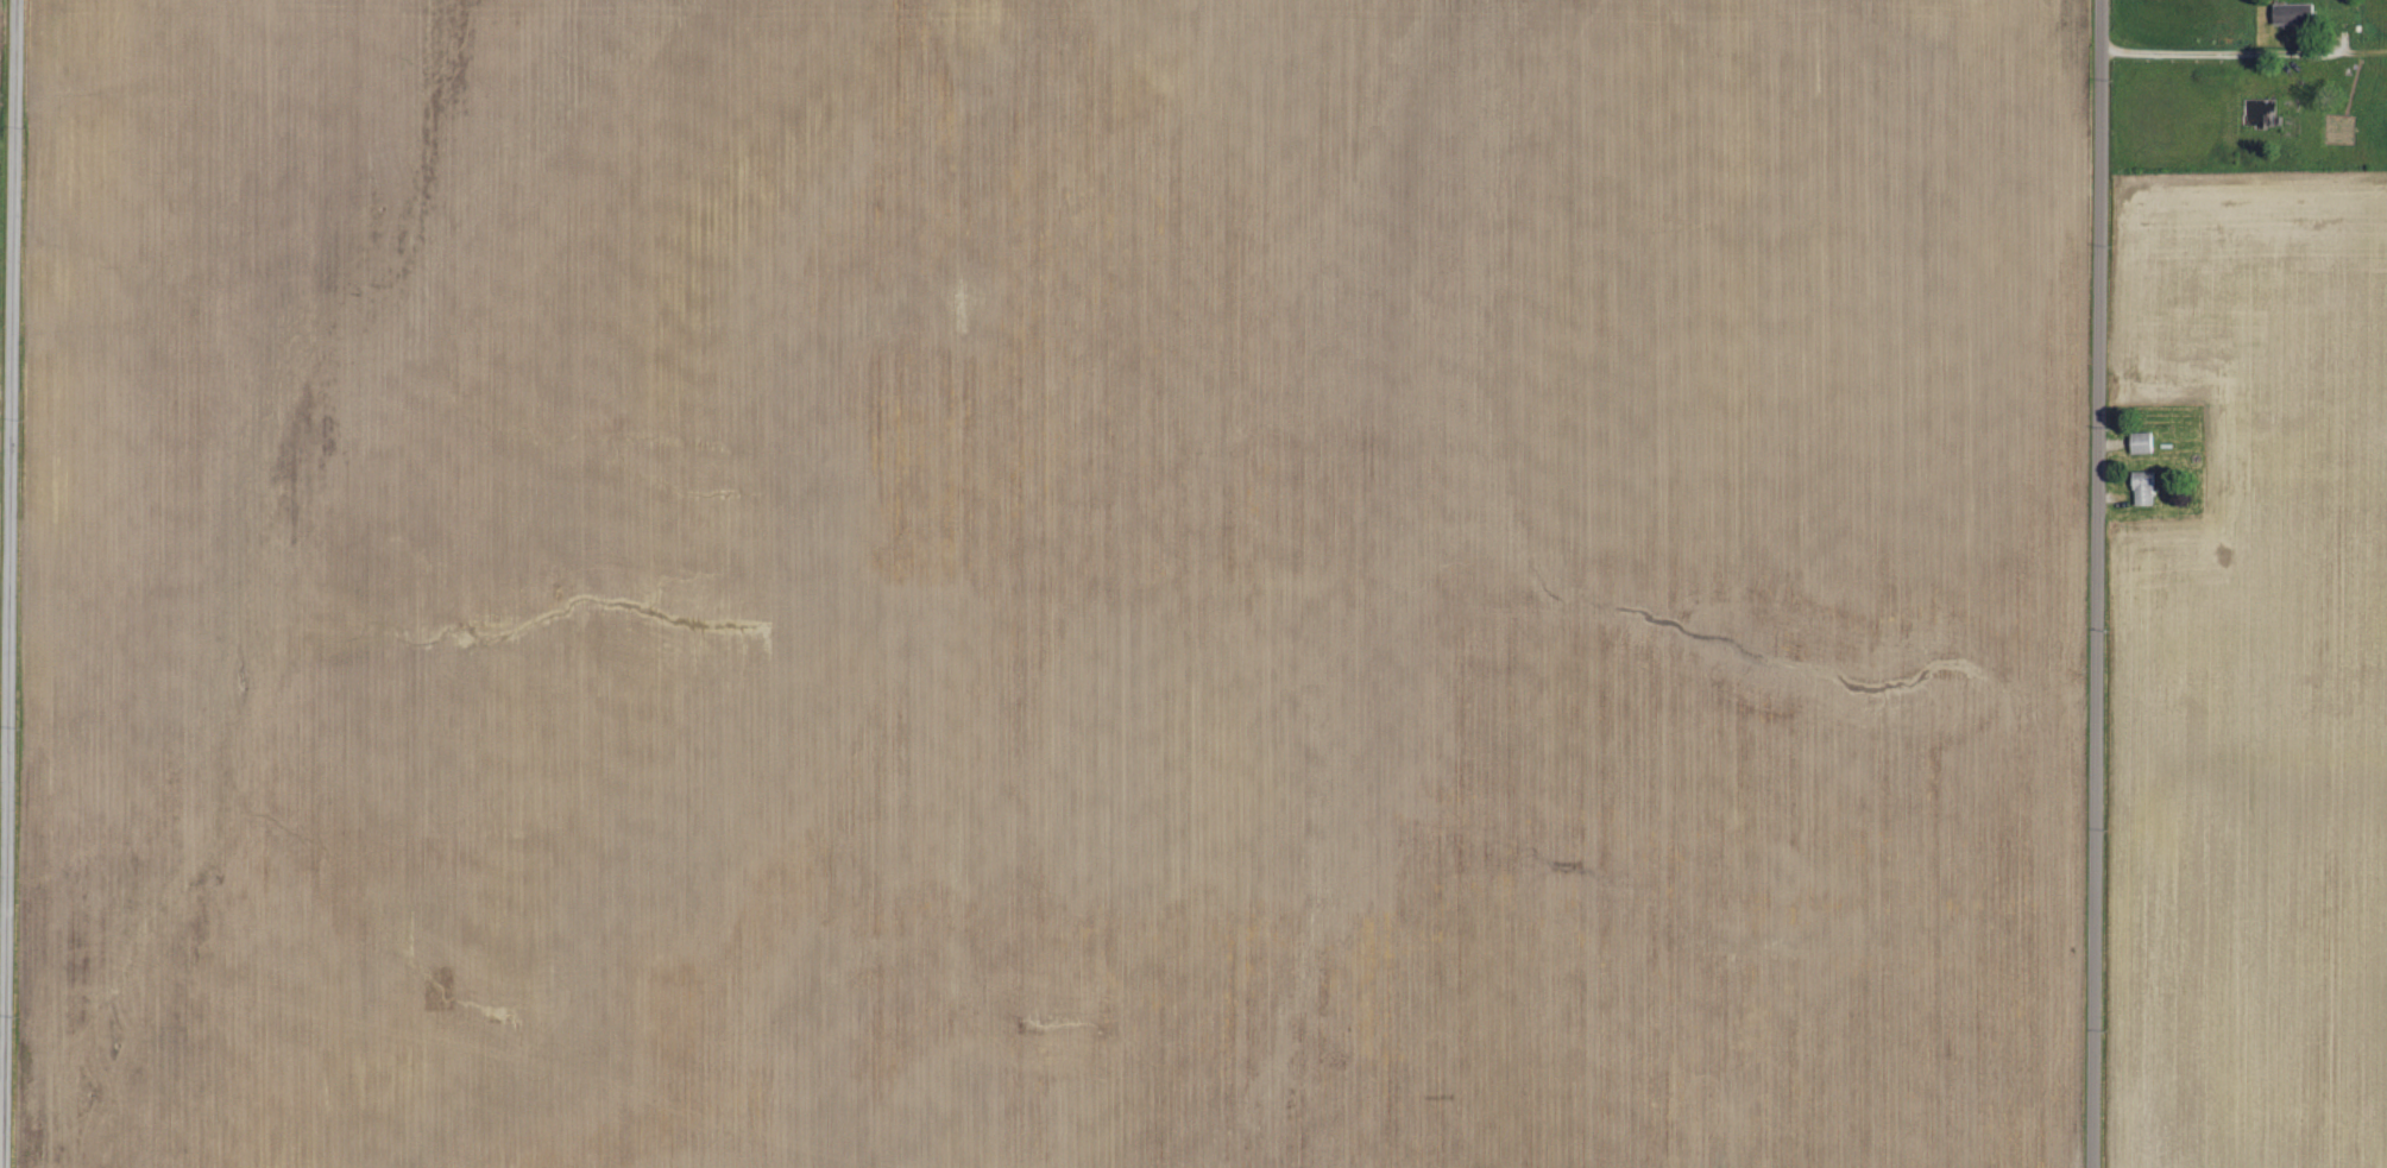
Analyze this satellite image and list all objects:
building: (2140, 442)
road: (10, 583)
road: (2097, 583)

